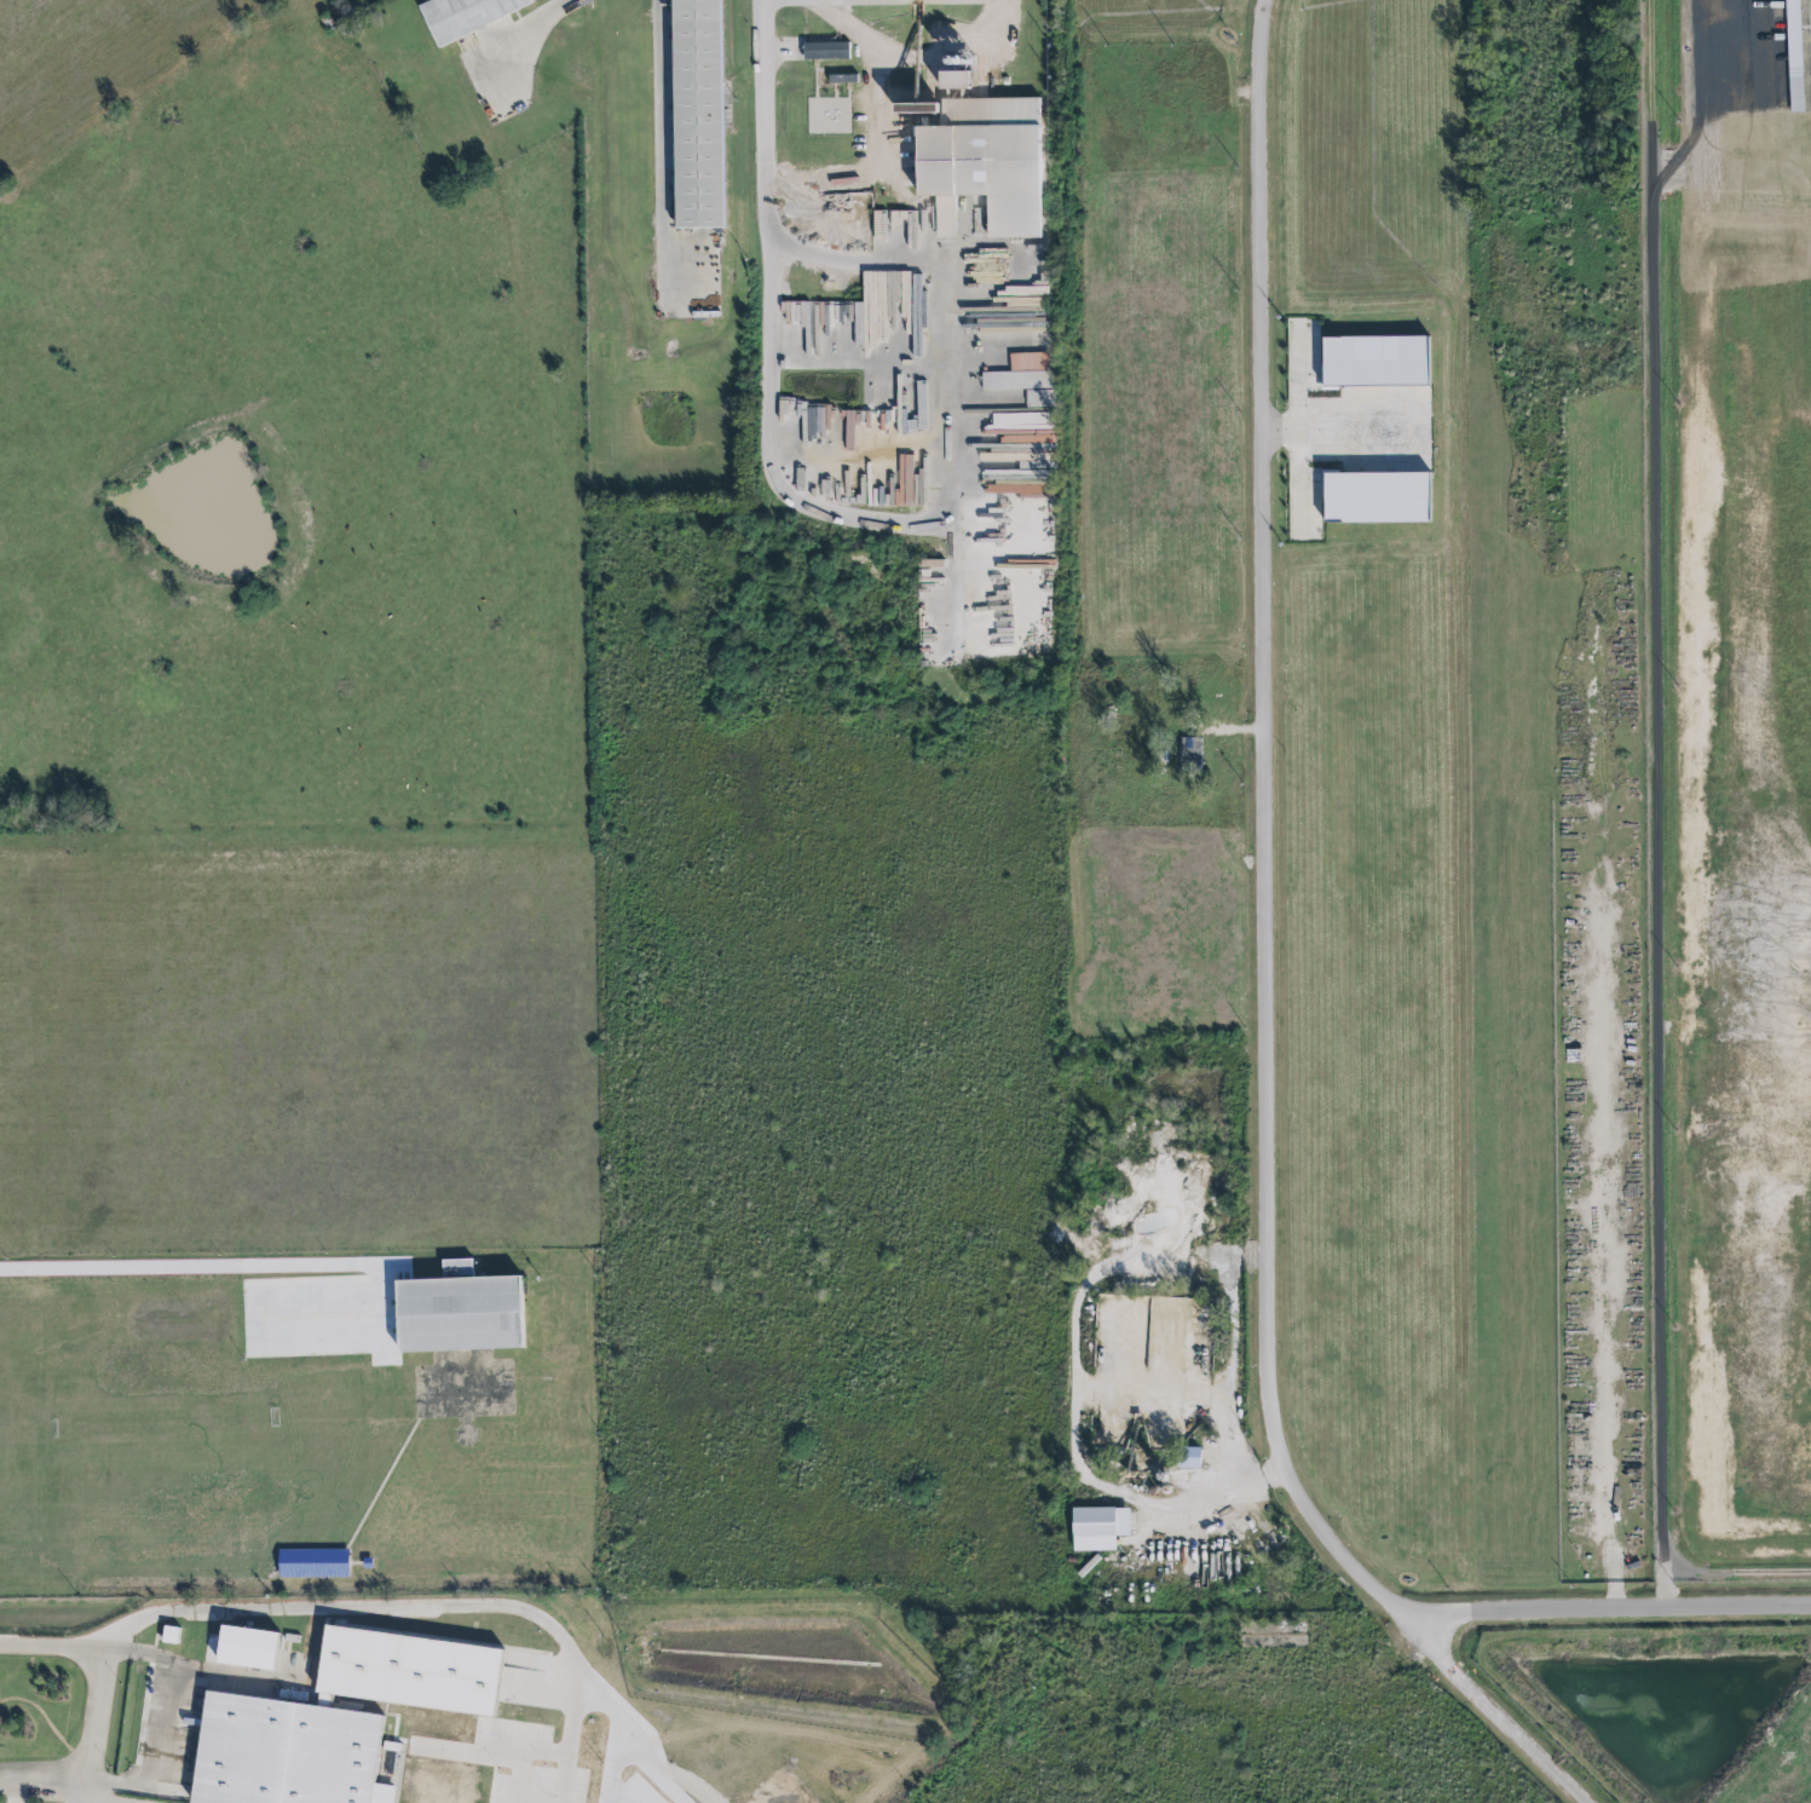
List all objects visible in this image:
building: (1792, 13)
building: (466, 15)
road: (541, 22)
building: (827, 51)
building: (1795, 92)
building: (697, 114)
road: (768, 120)
road: (886, 133)
building: (980, 155)
building: (1375, 362)
road: (1340, 431)
building: (1377, 499)
road: (946, 523)
building: (1190, 755)
road: (1662, 805)
road: (1268, 839)
road: (1736, 929)
road: (1602, 1204)
road: (203, 1269)
road: (1711, 1274)
building: (458, 1311)
building: (1190, 1457)
building: (1098, 1527)
building: (312, 1563)
road: (1611, 1606)
building: (169, 1635)
building: (246, 1648)
road: (127, 1655)
road: (244, 1671)
road: (87, 1675)
road: (1501, 1718)
road: (615, 1738)
road: (570, 1752)
building: (278, 1753)
road: (38, 1776)
road: (4, 1788)
road: (74, 1792)

